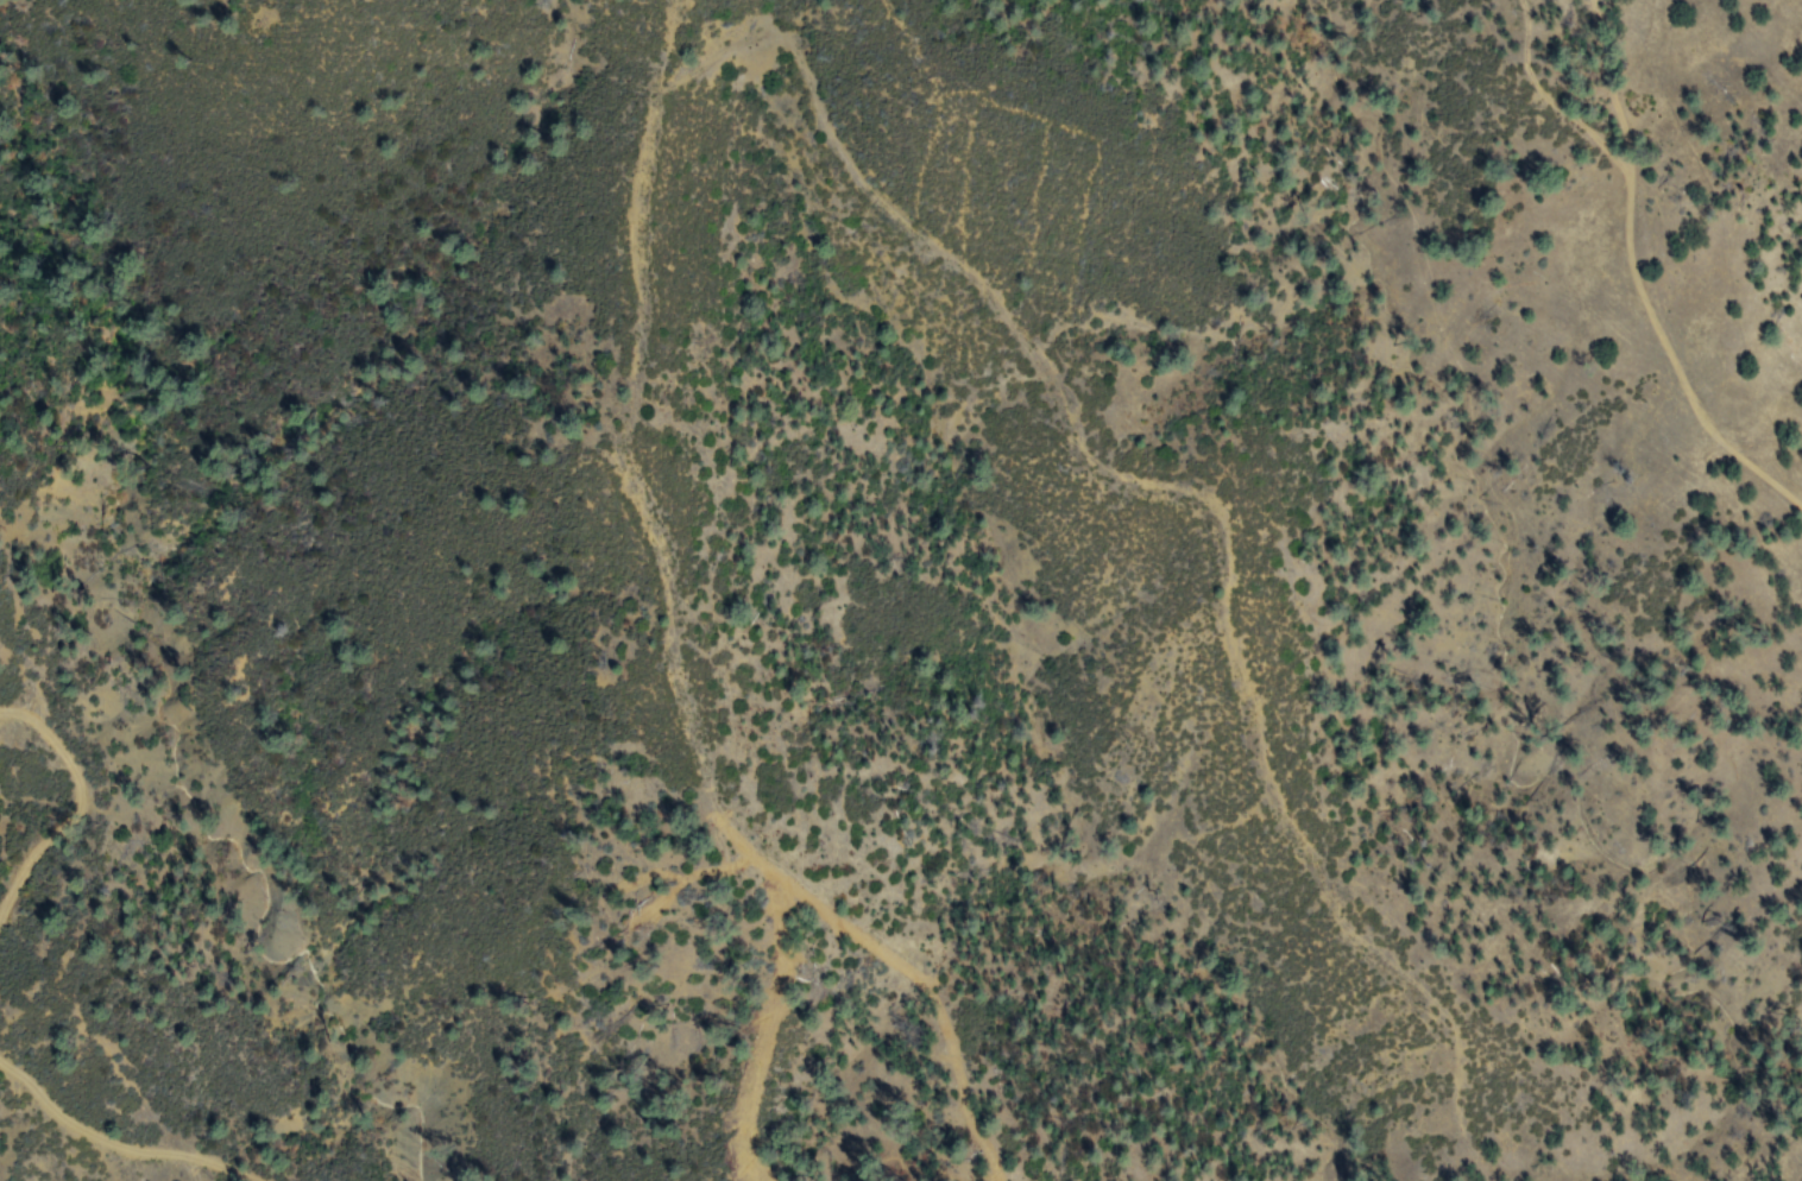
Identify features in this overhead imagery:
road: (1649, 259)

